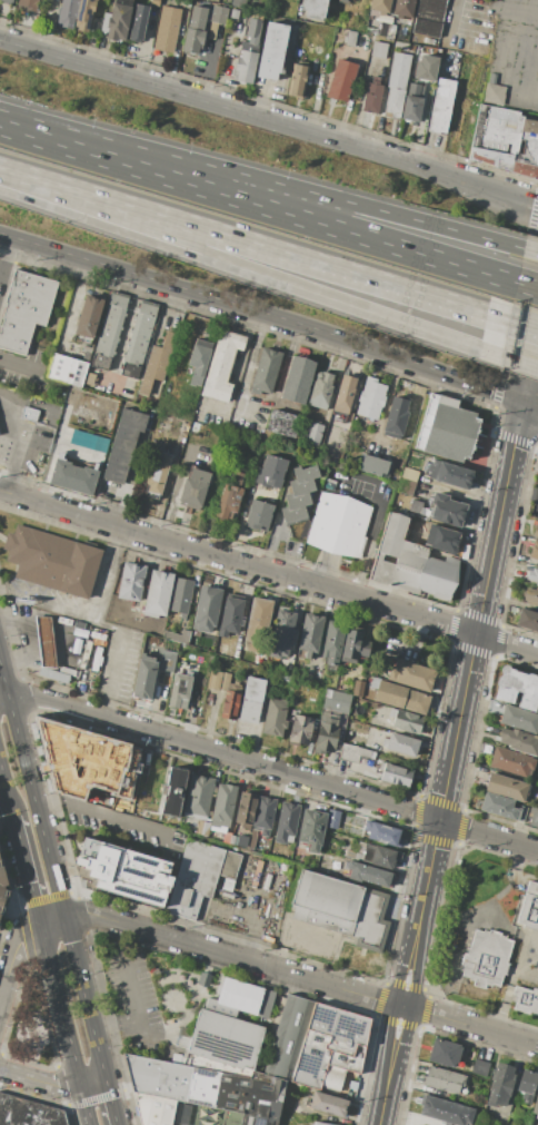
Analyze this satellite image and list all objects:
building: (342, 0)
building: (6, 1)
building: (155, 3)
building: (239, 3)
building: (28, 6)
building: (380, 7)
building: (402, 8)
building: (313, 10)
building: (76, 13)
building: (233, 13)
building: (199, 14)
building: (428, 17)
road: (454, 17)
building: (119, 20)
building: (216, 20)
building: (139, 22)
building: (167, 29)
building: (253, 30)
building: (390, 32)
building: (355, 39)
building: (192, 40)
building: (379, 49)
building: (272, 51)
road: (505, 57)
building: (246, 67)
building: (425, 67)
building: (297, 79)
building: (341, 80)
building: (397, 83)
building: (492, 90)
building: (372, 96)
building: (412, 103)
building: (440, 105)
road: (537, 106)
road: (270, 119)
building: (505, 141)
road: (242, 179)
road: (238, 195)
road: (233, 236)
road: (511, 245)
road: (6, 255)
road: (232, 256)
road: (507, 279)
building: (24, 309)
road: (263, 313)
building: (89, 316)
road: (502, 317)
building: (109, 330)
building: (139, 339)
building: (86, 349)
building: (86, 357)
road: (501, 357)
building: (199, 361)
road: (20, 363)
building: (157, 364)
road: (530, 364)
building: (221, 365)
building: (67, 371)
building: (266, 371)
road: (243, 374)
road: (236, 376)
building: (90, 378)
building: (299, 381)
building: (321, 389)
building: (345, 395)
building: (371, 398)
road: (383, 404)
traffic signals: (522, 405)
road: (530, 406)
road: (530, 408)
building: (28, 414)
building: (396, 418)
building: (166, 420)
building: (282, 423)
building: (447, 428)
building: (313, 434)
road: (24, 440)
building: (87, 441)
road: (515, 443)
building: (123, 444)
road: (10, 452)
building: (373, 465)
building: (271, 472)
building: (537, 472)
building: (158, 473)
building: (306, 473)
building: (454, 475)
building: (73, 476)
building: (329, 483)
building: (302, 486)
building: (406, 486)
building: (195, 489)
building: (230, 496)
building: (297, 500)
building: (447, 510)
building: (293, 514)
building: (259, 515)
building: (339, 525)
building: (536, 531)
road: (370, 533)
building: (444, 539)
building: (534, 550)
building: (410, 562)
building: (52, 563)
road: (268, 572)
road: (110, 573)
building: (531, 575)
building: (132, 581)
building: (537, 584)
building: (157, 593)
building: (531, 594)
building: (181, 595)
road: (49, 604)
building: (207, 609)
building: (230, 616)
building: (527, 619)
road: (477, 623)
building: (258, 625)
road: (111, 626)
building: (282, 633)
building: (177, 635)
building: (309, 635)
building: (44, 641)
building: (332, 641)
building: (355, 647)
building: (169, 661)
building: (372, 670)
road: (114, 674)
building: (411, 674)
building: (143, 677)
building: (285, 677)
building: (218, 680)
building: (358, 688)
building: (517, 688)
building: (180, 691)
road: (3, 694)
building: (401, 697)
building: (251, 700)
building: (336, 701)
building: (230, 704)
building: (495, 707)
building: (275, 717)
building: (519, 718)
building: (407, 721)
building: (301, 730)
building: (326, 733)
building: (518, 741)
building: (401, 744)
building: (355, 753)
parking lot: (80, 762)
building: (512, 762)
road: (64, 769)
road: (273, 769)
building: (395, 773)
building: (126, 780)
building: (506, 787)
road: (7, 789)
road: (31, 789)
building: (175, 791)
road: (445, 792)
building: (198, 797)
building: (223, 806)
building: (498, 806)
building: (246, 809)
building: (521, 813)
road: (109, 816)
building: (532, 816)
building: (333, 817)
building: (262, 818)
traffic signals: (440, 820)
building: (286, 821)
building: (202, 829)
building: (312, 829)
building: (382, 833)
building: (233, 840)
road: (434, 848)
building: (351, 853)
building: (381, 856)
road: (27, 869)
building: (283, 869)
building: (126, 872)
building: (256, 872)
building: (296, 872)
building: (368, 874)
building: (199, 877)
building: (1, 882)
building: (336, 915)
road: (52, 918)
building: (499, 946)
road: (12, 956)
building: (346, 956)
road: (300, 975)
road: (83, 997)
road: (132, 998)
building: (527, 998)
parking lot: (132, 1000)
road: (403, 1000)
road: (61, 1004)
road: (114, 1022)
park: (30, 1027)
building: (227, 1028)
building: (288, 1037)
building: (330, 1045)
building: (445, 1053)
building: (479, 1068)
building: (158, 1077)
building: (444, 1079)
road: (40, 1080)
road: (93, 1082)
building: (527, 1085)
building: (500, 1086)
building: (235, 1093)
road: (110, 1102)
road: (86, 1104)
building: (325, 1105)
building: (536, 1106)
building: (155, 1108)
building: (446, 1111)
building: (28, 1113)
building: (517, 1115)
building: (257, 1119)
building: (319, 1123)
building: (281, 1124)

